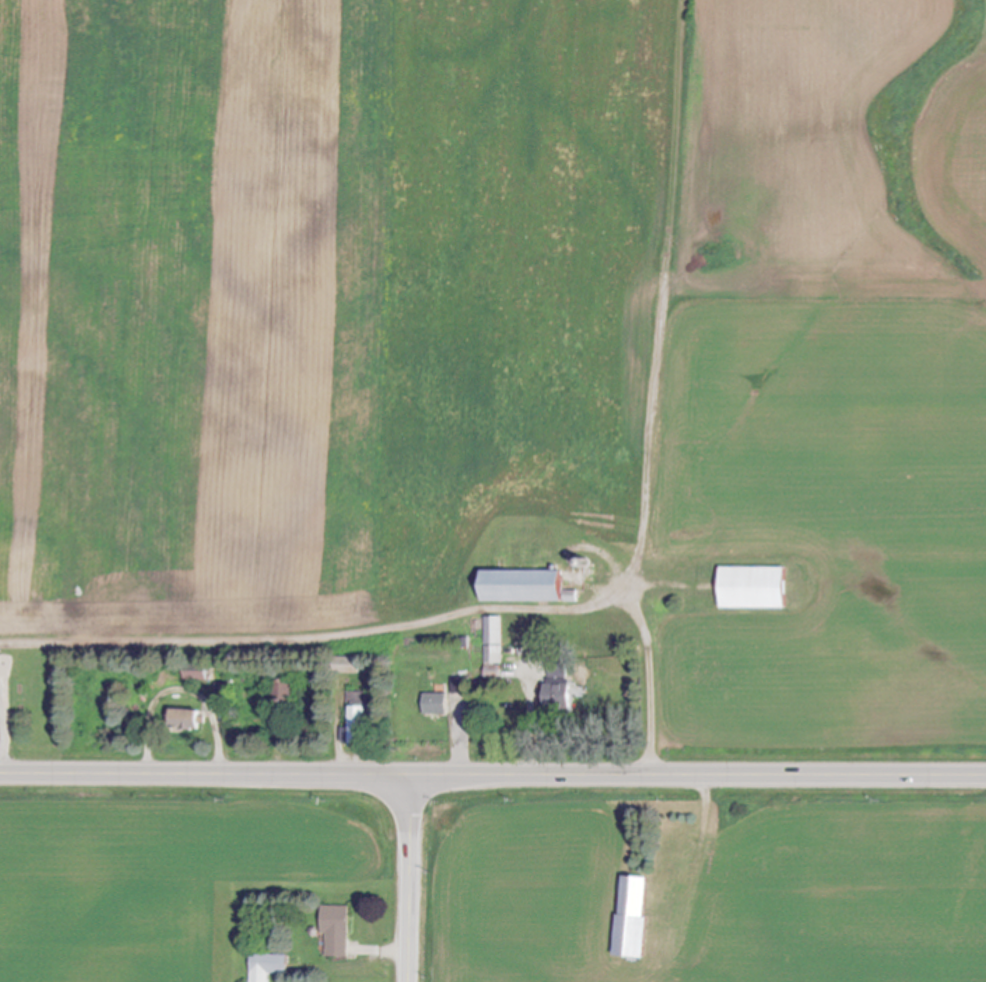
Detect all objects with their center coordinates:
building: (530, 588)
building: (760, 589)
road: (403, 623)
building: (494, 642)
building: (560, 670)
road: (180, 687)
building: (288, 690)
building: (563, 698)
building: (438, 705)
building: (188, 720)
road: (530, 722)
building: (365, 726)
road: (5, 738)
road: (462, 747)
road: (492, 772)
road: (409, 877)
building: (637, 919)
building: (338, 931)
road: (394, 954)
building: (270, 967)

